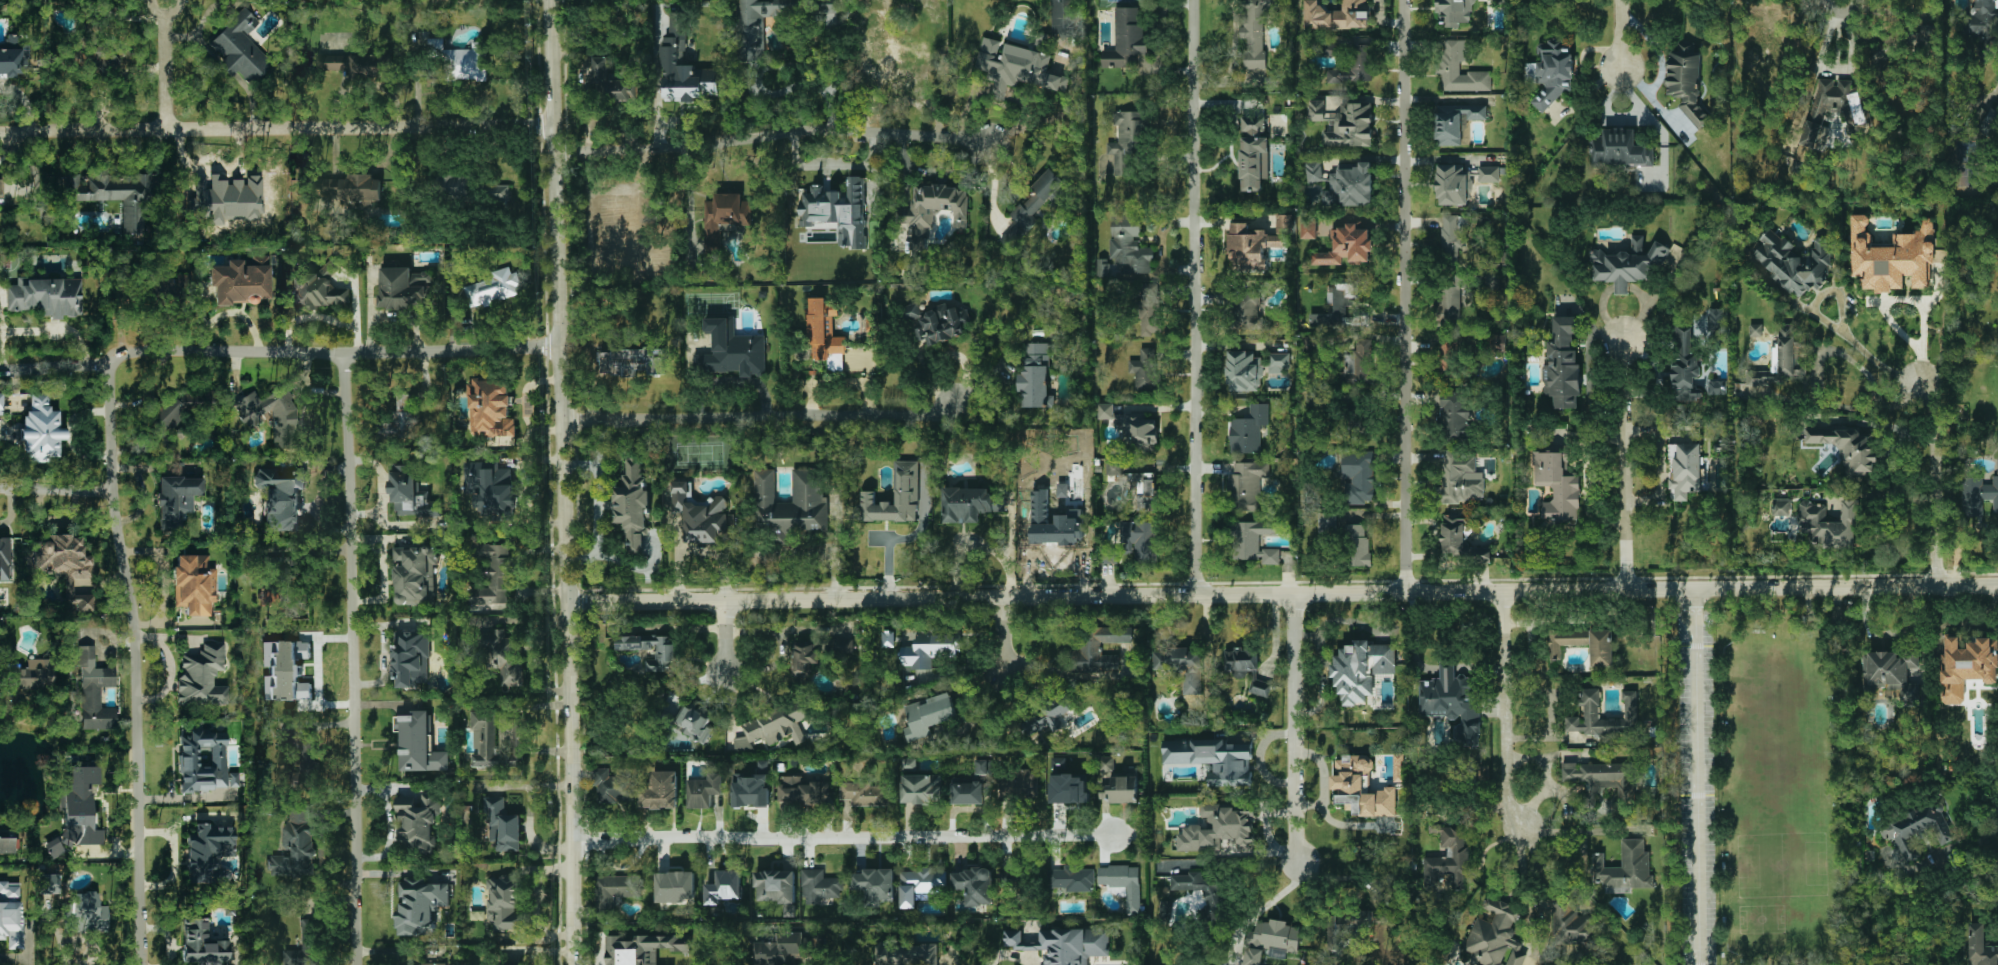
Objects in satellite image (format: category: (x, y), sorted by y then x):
road: (164, 1)
building: (1454, 12)
road: (1841, 13)
building: (830, 14)
building: (1337, 15)
building: (1063, 18)
building: (757, 25)
building: (1255, 30)
road: (1622, 35)
building: (1126, 37)
building: (240, 48)
building: (1764, 48)
road: (1233, 57)
building: (13, 58)
building: (101, 59)
building: (352, 63)
building: (465, 63)
road: (168, 65)
building: (684, 66)
building: (1017, 67)
building: (1353, 67)
building: (1459, 68)
building: (1552, 71)
building: (1686, 80)
building: (613, 84)
road: (25, 100)
building: (1833, 108)
building: (1316, 110)
building: (1991, 120)
building: (1456, 121)
building: (1350, 125)
road: (277, 127)
road: (769, 133)
building: (1127, 141)
building: (1619, 148)
building: (1254, 152)
building: (1313, 171)
building: (1488, 173)
building: (1454, 184)
building: (456, 186)
building: (1350, 187)
building: (1, 188)
building: (352, 189)
building: (500, 192)
building: (116, 196)
building: (1037, 199)
building: (838, 210)
building: (918, 216)
building: (723, 217)
building: (1315, 227)
building: (621, 230)
building: (1453, 238)
building: (1128, 244)
building: (1347, 245)
building: (1892, 256)
building: (1795, 262)
building: (1628, 264)
building: (1103, 267)
building: (241, 281)
building: (174, 285)
building: (320, 288)
building: (403, 288)
building: (492, 288)
road: (1406, 295)
building: (47, 296)
road: (1193, 296)
building: (1451, 297)
building: (1342, 308)
building: (1150, 309)
building: (1247, 309)
road: (356, 312)
road: (231, 313)
road: (312, 317)
building: (939, 322)
building: (1717, 322)
road: (1831, 327)
building: (1755, 330)
road: (40, 331)
building: (825, 334)
building: (1499, 342)
road: (276, 350)
building: (731, 350)
building: (1447, 359)
building: (632, 361)
building: (1279, 362)
building: (1358, 363)
building: (1685, 363)
building: (1563, 364)
building: (1146, 369)
building: (1244, 371)
building: (1036, 375)
road: (1874, 383)
building: (1717, 387)
building: (1, 404)
building: (491, 408)
building: (1105, 410)
road: (765, 414)
building: (272, 416)
building: (172, 417)
building: (1455, 417)
building: (398, 420)
building: (40, 430)
building: (1249, 430)
building: (1137, 432)
building: (1847, 448)
road: (1626, 462)
building: (1113, 467)
building: (1686, 470)
building: (906, 475)
building: (1358, 476)
building: (1460, 478)
road: (1935, 480)
road: (566, 482)
building: (1246, 485)
building: (1557, 485)
building: (491, 489)
road: (55, 490)
building: (1144, 490)
building: (410, 493)
building: (1978, 495)
building: (281, 497)
building: (176, 500)
building: (967, 503)
building: (632, 505)
building: (791, 505)
building: (1781, 506)
road: (596, 507)
road: (12, 511)
building: (700, 514)
building: (1040, 516)
building: (1326, 524)
building: (1830, 524)
building: (1461, 538)
building: (1253, 541)
road: (1959, 541)
building: (1134, 543)
building: (1357, 545)
road: (699, 550)
building: (4, 559)
building: (65, 566)
building: (491, 573)
building: (415, 575)
building: (194, 585)
building: (290, 587)
road: (1282, 592)
road: (785, 628)
road: (1002, 631)
road: (723, 636)
building: (888, 638)
building: (1566, 640)
building: (843, 646)
building: (931, 646)
building: (1602, 647)
building: (1098, 648)
building: (665, 654)
road: (354, 657)
building: (503, 657)
building: (805, 657)
building: (410, 658)
road: (137, 663)
building: (1968, 665)
building: (1182, 666)
building: (1246, 668)
building: (1361, 669)
building: (286, 670)
building: (1891, 672)
building: (32, 675)
building: (202, 677)
building: (94, 692)
building: (1453, 702)
road: (1507, 704)
building: (1592, 711)
building: (928, 715)
building: (1047, 715)
road: (24, 721)
building: (695, 723)
building: (775, 724)
road: (1293, 728)
building: (418, 743)
building: (306, 752)
building: (1213, 758)
building: (205, 762)
building: (1106, 763)
building: (982, 766)
road: (1696, 775)
building: (1602, 778)
building: (1020, 783)
building: (613, 786)
building: (1361, 787)
building: (922, 788)
building: (1069, 788)
building: (1124, 789)
building: (661, 790)
building: (704, 790)
building: (971, 790)
building: (751, 791)
building: (799, 791)
building: (866, 793)
building: (79, 806)
road: (531, 815)
building: (418, 821)
building: (502, 826)
building: (1218, 829)
road: (1569, 830)
building: (1917, 830)
road: (841, 839)
building: (7, 842)
building: (296, 846)
building: (54, 848)
building: (208, 851)
building: (1448, 857)
building: (1625, 868)
road: (1993, 869)
building: (1072, 879)
building: (1123, 883)
building: (47, 884)
building: (876, 884)
building: (776, 885)
building: (920, 885)
building: (975, 885)
building: (676, 886)
building: (724, 886)
building: (819, 886)
building: (616, 889)
road: (535, 900)
building: (505, 902)
building: (1214, 903)
building: (420, 904)
building: (1165, 910)
building: (84, 914)
building: (10, 915)
building: (1381, 915)
building: (1571, 923)
building: (1495, 936)
building: (1271, 941)
building: (1064, 944)
building: (202, 945)
building: (305, 945)
building: (1981, 946)
building: (642, 948)
road: (550, 949)
building: (780, 950)
building: (905, 953)
road: (142, 963)
building: (434, 963)

